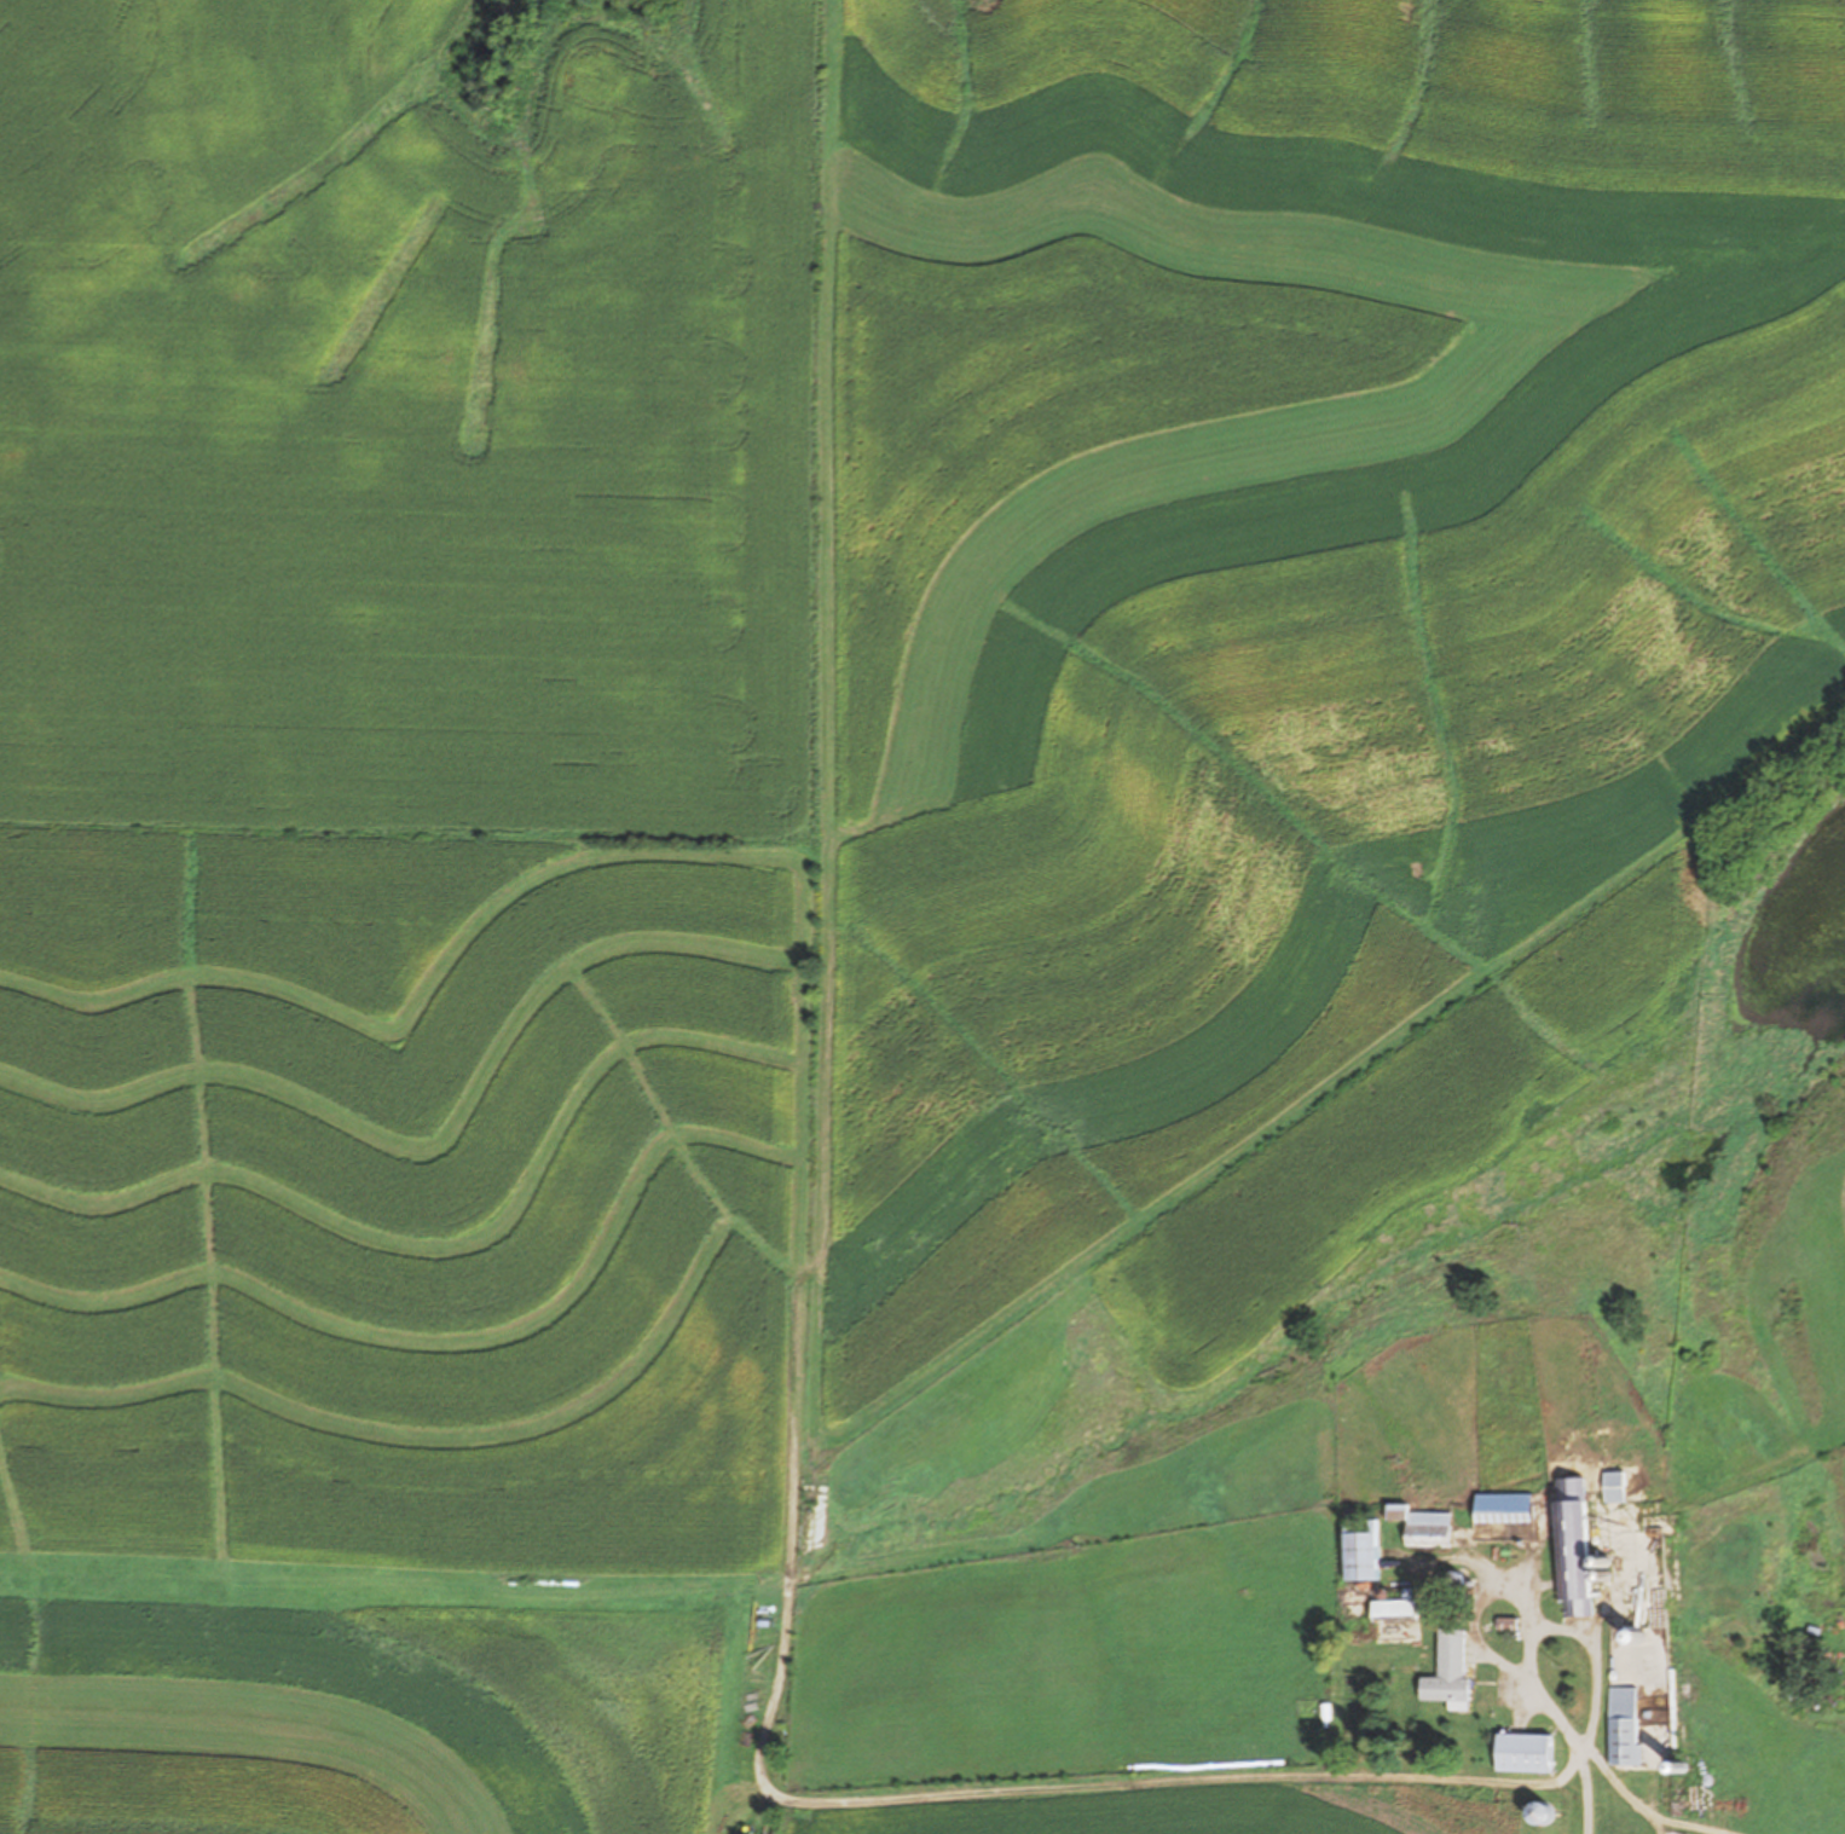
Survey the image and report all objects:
building: (1614, 1487)
building: (1508, 1506)
building: (1422, 1526)
building: (1572, 1545)
building: (1360, 1549)
building: (1393, 1608)
building: (1447, 1668)
building: (1623, 1725)
building: (1523, 1752)
road: (1602, 1776)
building: (1537, 1812)

